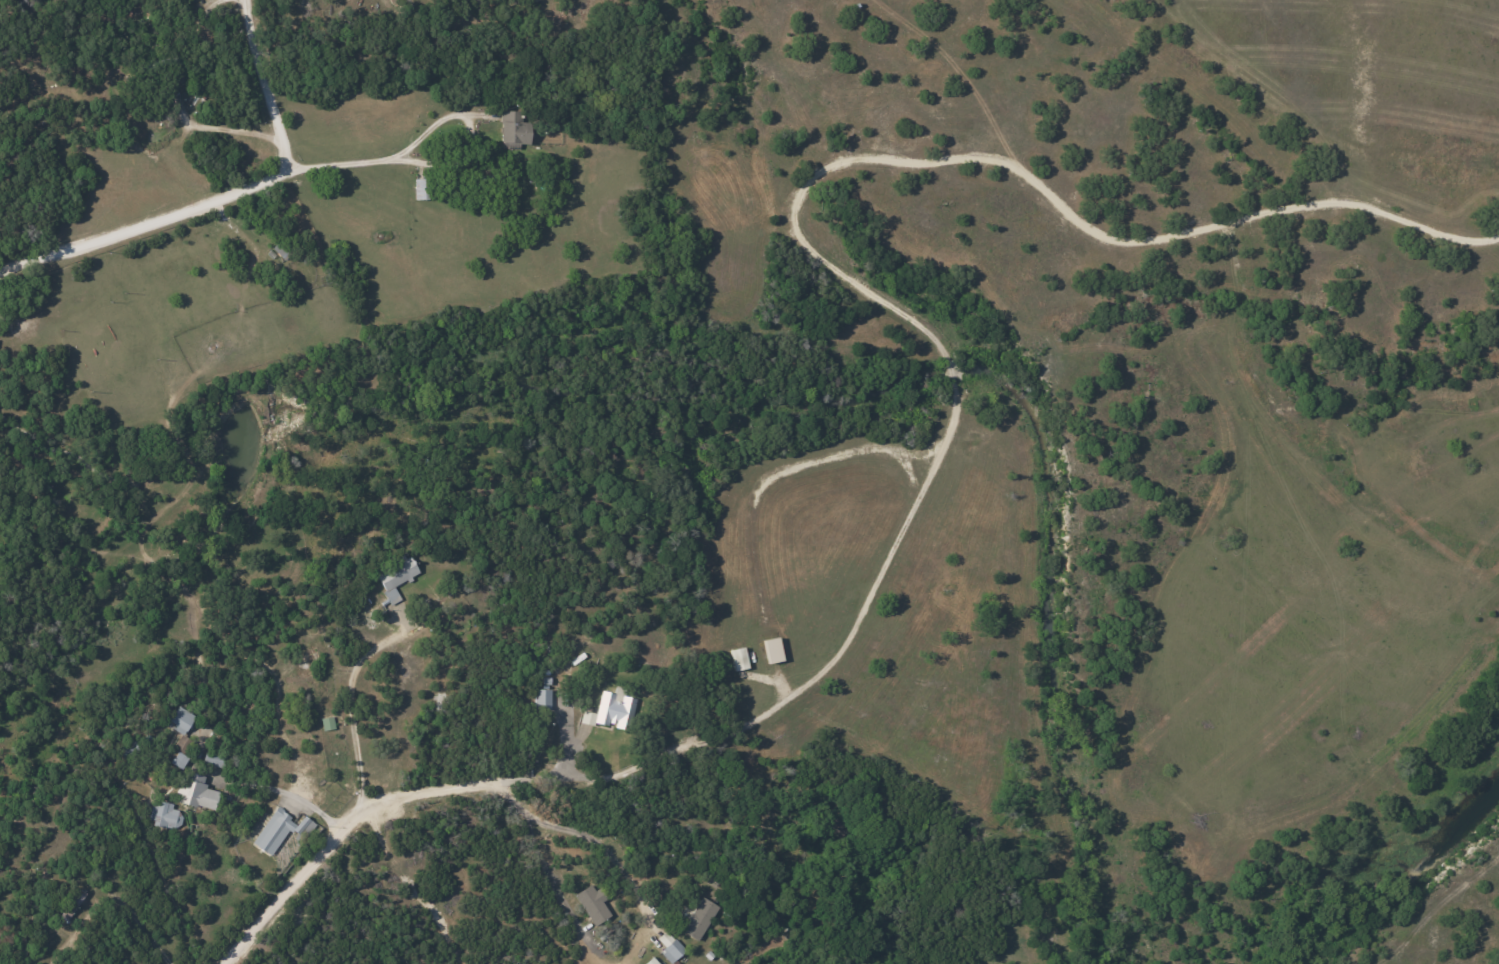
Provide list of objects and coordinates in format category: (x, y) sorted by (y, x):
road: (218, 127)
building: (513, 127)
road: (393, 154)
building: (419, 188)
road: (231, 194)
road: (837, 257)
road: (756, 493)
building: (395, 576)
building: (771, 649)
building: (542, 694)
building: (610, 710)
road: (351, 712)
building: (178, 720)
building: (326, 723)
building: (212, 758)
building: (195, 791)
road: (281, 791)
road: (351, 821)
building: (280, 830)
road: (590, 838)
building: (591, 903)
building: (72, 904)
building: (698, 918)
building: (669, 946)
building: (650, 961)

